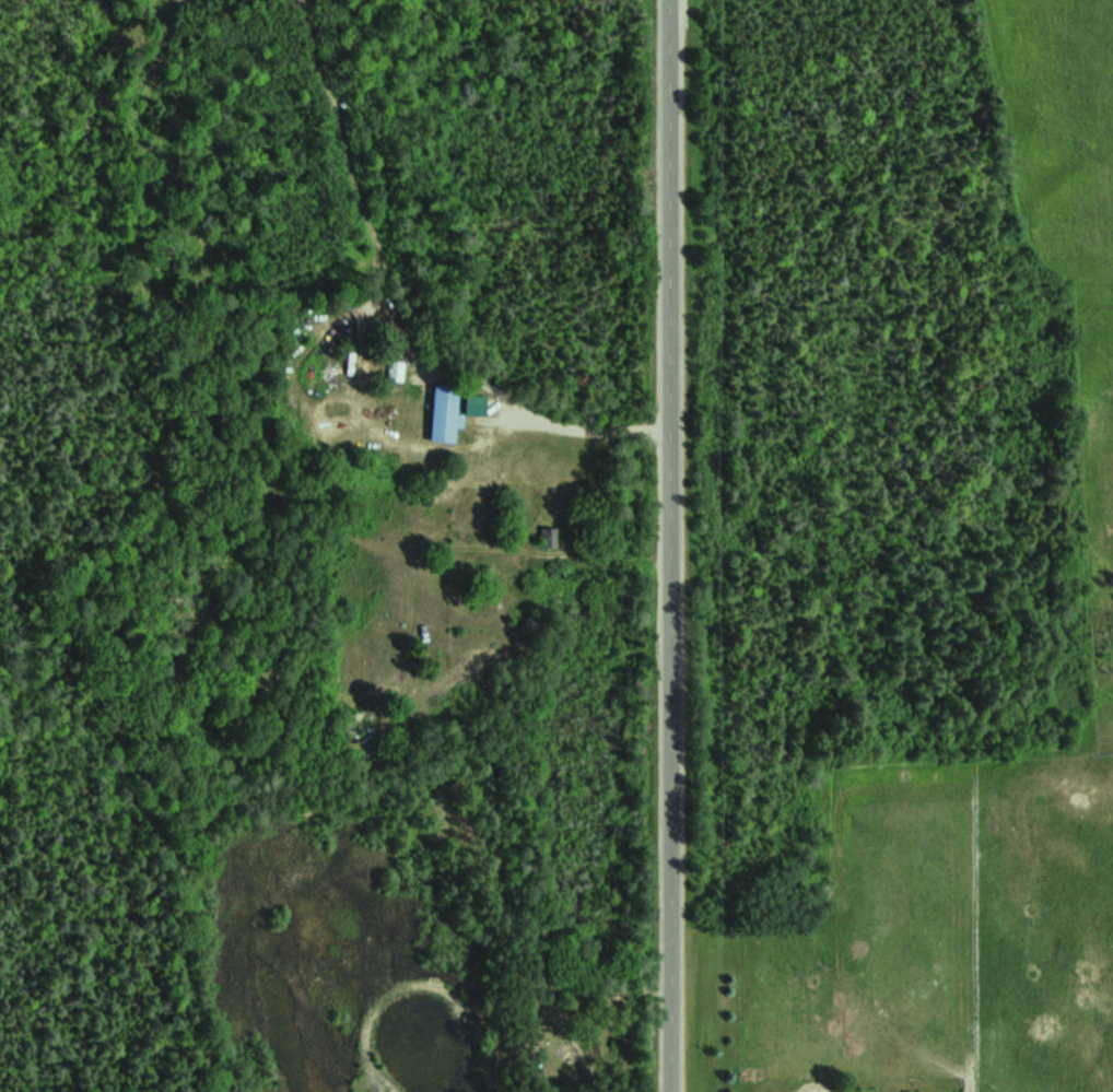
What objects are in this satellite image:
building: (400, 371)
building: (453, 413)
building: (547, 538)
road: (678, 545)

